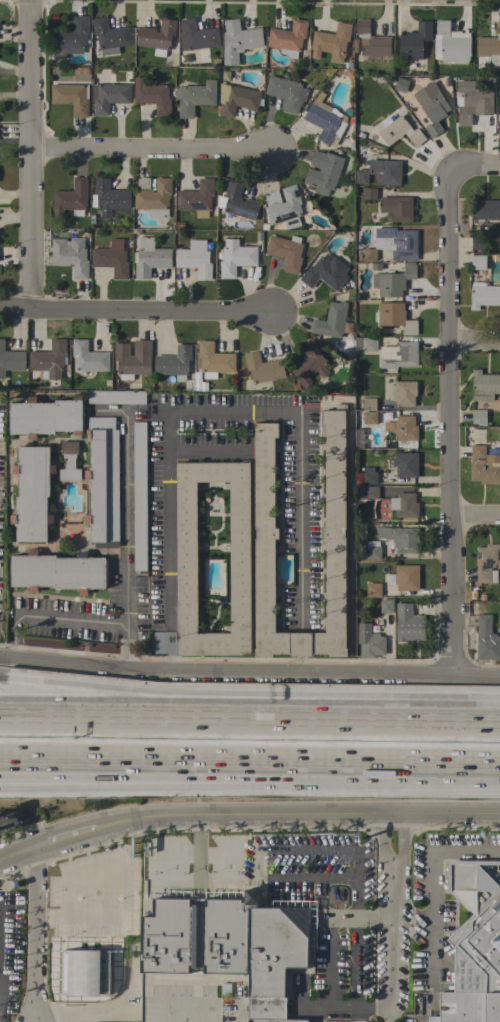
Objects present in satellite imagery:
building: (198, 35)
building: (110, 36)
building: (156, 37)
building: (71, 38)
building: (288, 38)
building: (332, 39)
building: (238, 41)
building: (371, 41)
building: (414, 41)
building: (451, 44)
building: (489, 47)
building: (286, 92)
building: (109, 96)
building: (152, 96)
building: (194, 97)
building: (71, 98)
building: (236, 98)
building: (471, 101)
building: (432, 108)
building: (498, 118)
building: (325, 120)
building: (397, 129)
road: (151, 149)
road: (30, 155)
road: (473, 168)
building: (385, 171)
building: (323, 172)
building: (361, 176)
building: (369, 193)
building: (108, 197)
building: (153, 197)
building: (71, 198)
building: (196, 198)
building: (237, 202)
building: (283, 207)
building: (397, 208)
building: (484, 208)
building: (478, 242)
building: (399, 243)
building: (286, 251)
building: (369, 254)
building: (70, 256)
building: (150, 257)
building: (236, 257)
building: (111, 259)
building: (195, 259)
building: (478, 262)
building: (325, 273)
building: (393, 281)
building: (483, 295)
road: (135, 311)
building: (396, 317)
building: (331, 320)
building: (366, 344)
road: (474, 344)
building: (399, 355)
building: (88, 357)
building: (49, 359)
building: (133, 359)
building: (10, 360)
building: (213, 360)
building: (174, 363)
building: (309, 363)
building: (263, 368)
building: (484, 385)
building: (404, 393)
building: (116, 397)
building: (369, 404)
road: (234, 413)
building: (46, 417)
building: (367, 417)
building: (479, 417)
road: (448, 421)
building: (403, 428)
building: (69, 454)
building: (405, 464)
building: (483, 467)
building: (369, 475)
building: (103, 482)
building: (370, 492)
building: (32, 494)
building: (139, 495)
building: (404, 505)
road: (474, 516)
road: (125, 528)
building: (333, 533)
building: (400, 538)
road: (168, 542)
building: (186, 542)
road: (299, 543)
building: (373, 553)
building: (487, 563)
building: (58, 572)
building: (406, 577)
building: (373, 589)
building: (386, 605)
road: (61, 616)
building: (408, 624)
building: (485, 635)
building: (370, 641)
road: (14, 648)
road: (126, 658)
road: (249, 672)
road: (130, 705)
road: (130, 718)
road: (379, 722)
railway: (250, 741)
road: (249, 759)
road: (131, 768)
road: (297, 813)
road: (392, 819)
road: (198, 832)
road: (67, 834)
road: (384, 843)
road: (402, 843)
road: (19, 852)
road: (340, 879)
road: (123, 887)
road: (432, 903)
road: (393, 909)
road: (341, 919)
road: (34, 932)
building: (197, 936)
building: (474, 950)
building: (273, 960)
building: (85, 972)
road: (392, 979)
building: (195, 997)
road: (359, 1005)
road: (231, 1007)
road: (322, 1007)
road: (315, 1014)
road: (358, 1014)
road: (392, 1014)

